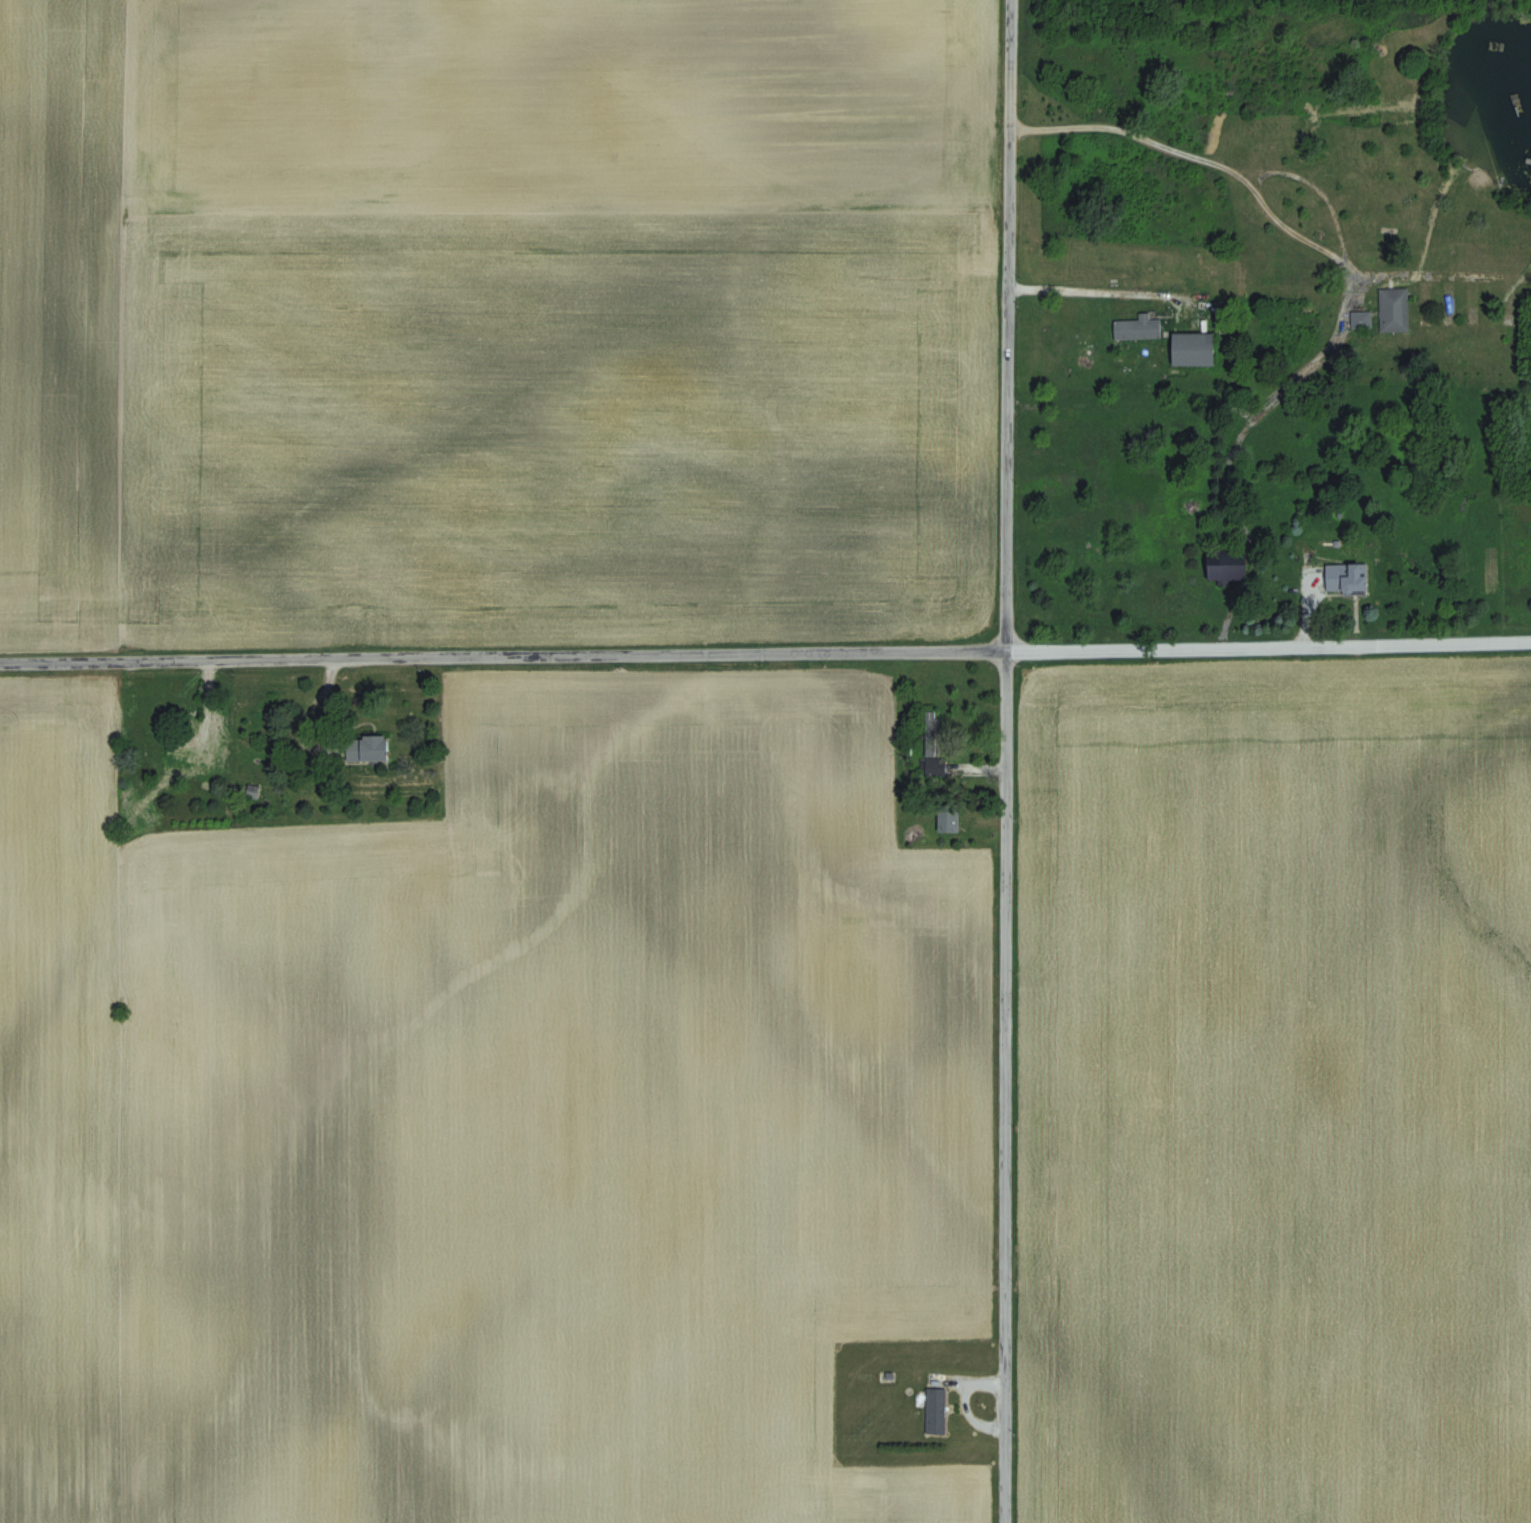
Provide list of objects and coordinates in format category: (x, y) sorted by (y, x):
road: (1275, 222)
road: (1444, 274)
road: (1107, 295)
building: (1396, 310)
building: (1139, 328)
building: (1195, 350)
road: (1218, 409)
road: (1221, 529)
building: (1228, 565)
building: (1346, 579)
road: (765, 653)
building: (933, 730)
building: (371, 748)
building: (188, 749)
road: (1006, 761)
building: (937, 766)
building: (949, 817)
building: (937, 1410)

